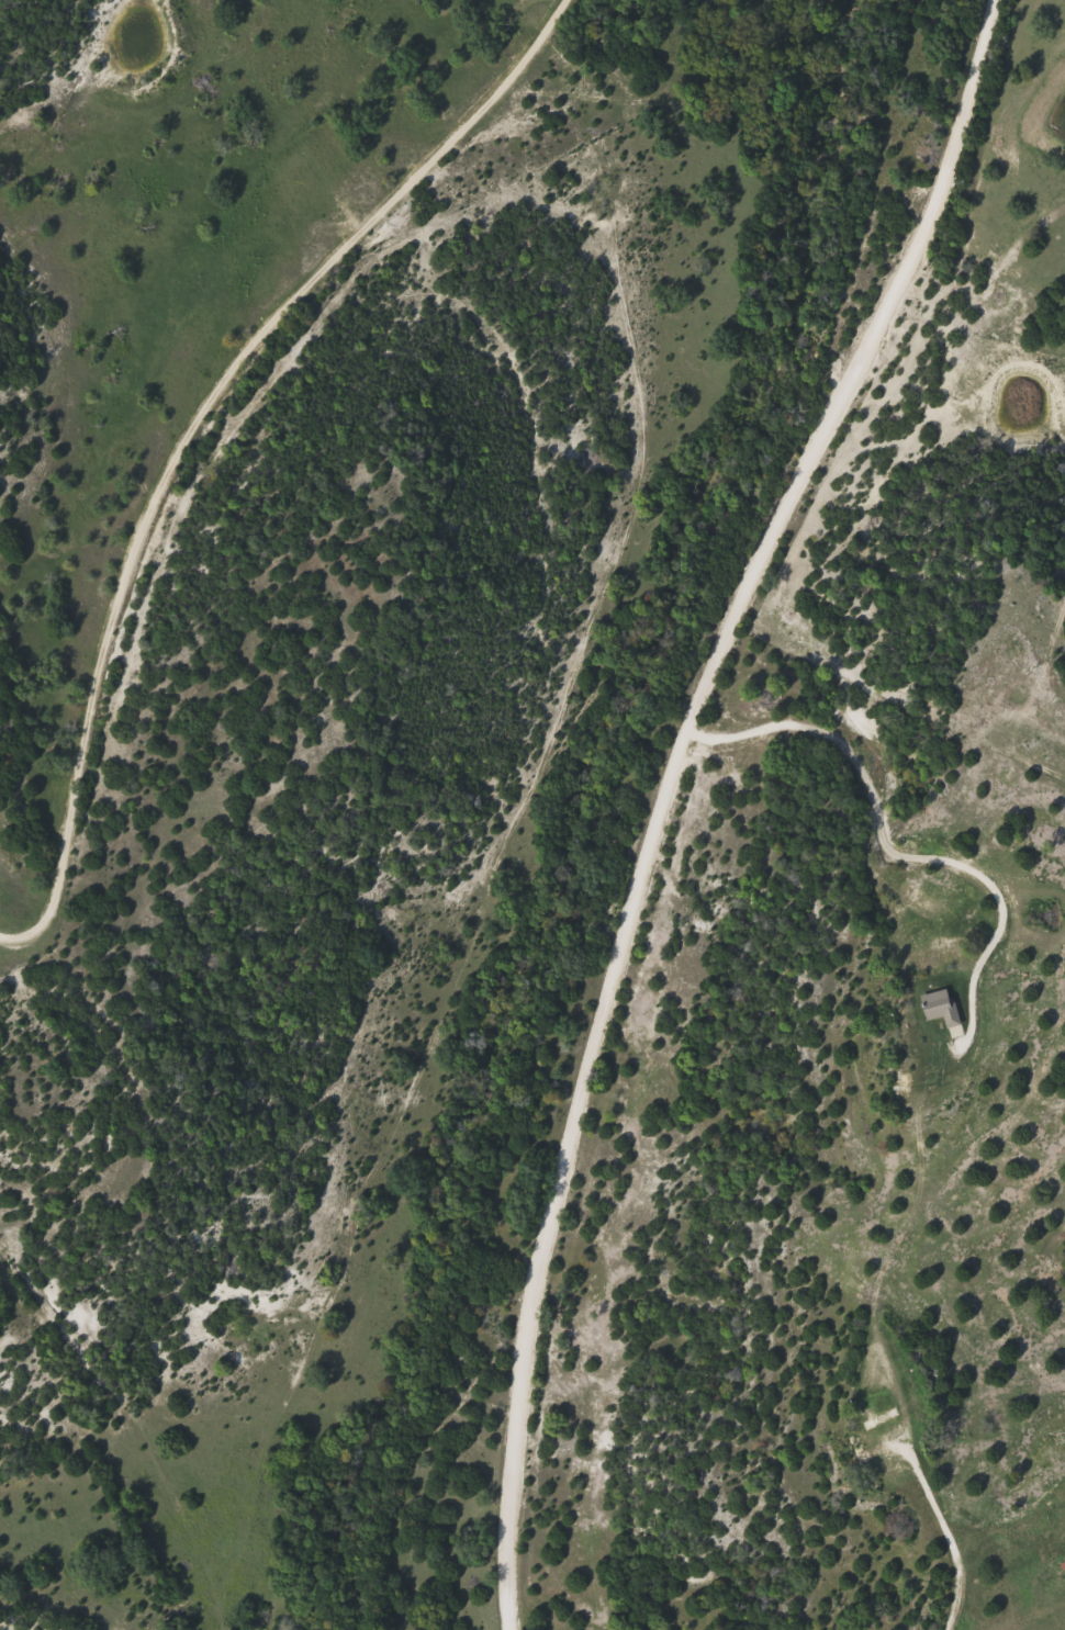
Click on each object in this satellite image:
road: (201, 434)
road: (752, 731)
road: (673, 790)
building: (942, 1007)
road: (800, 1281)
building: (879, 1418)
building: (863, 1455)
building: (1063, 1564)

